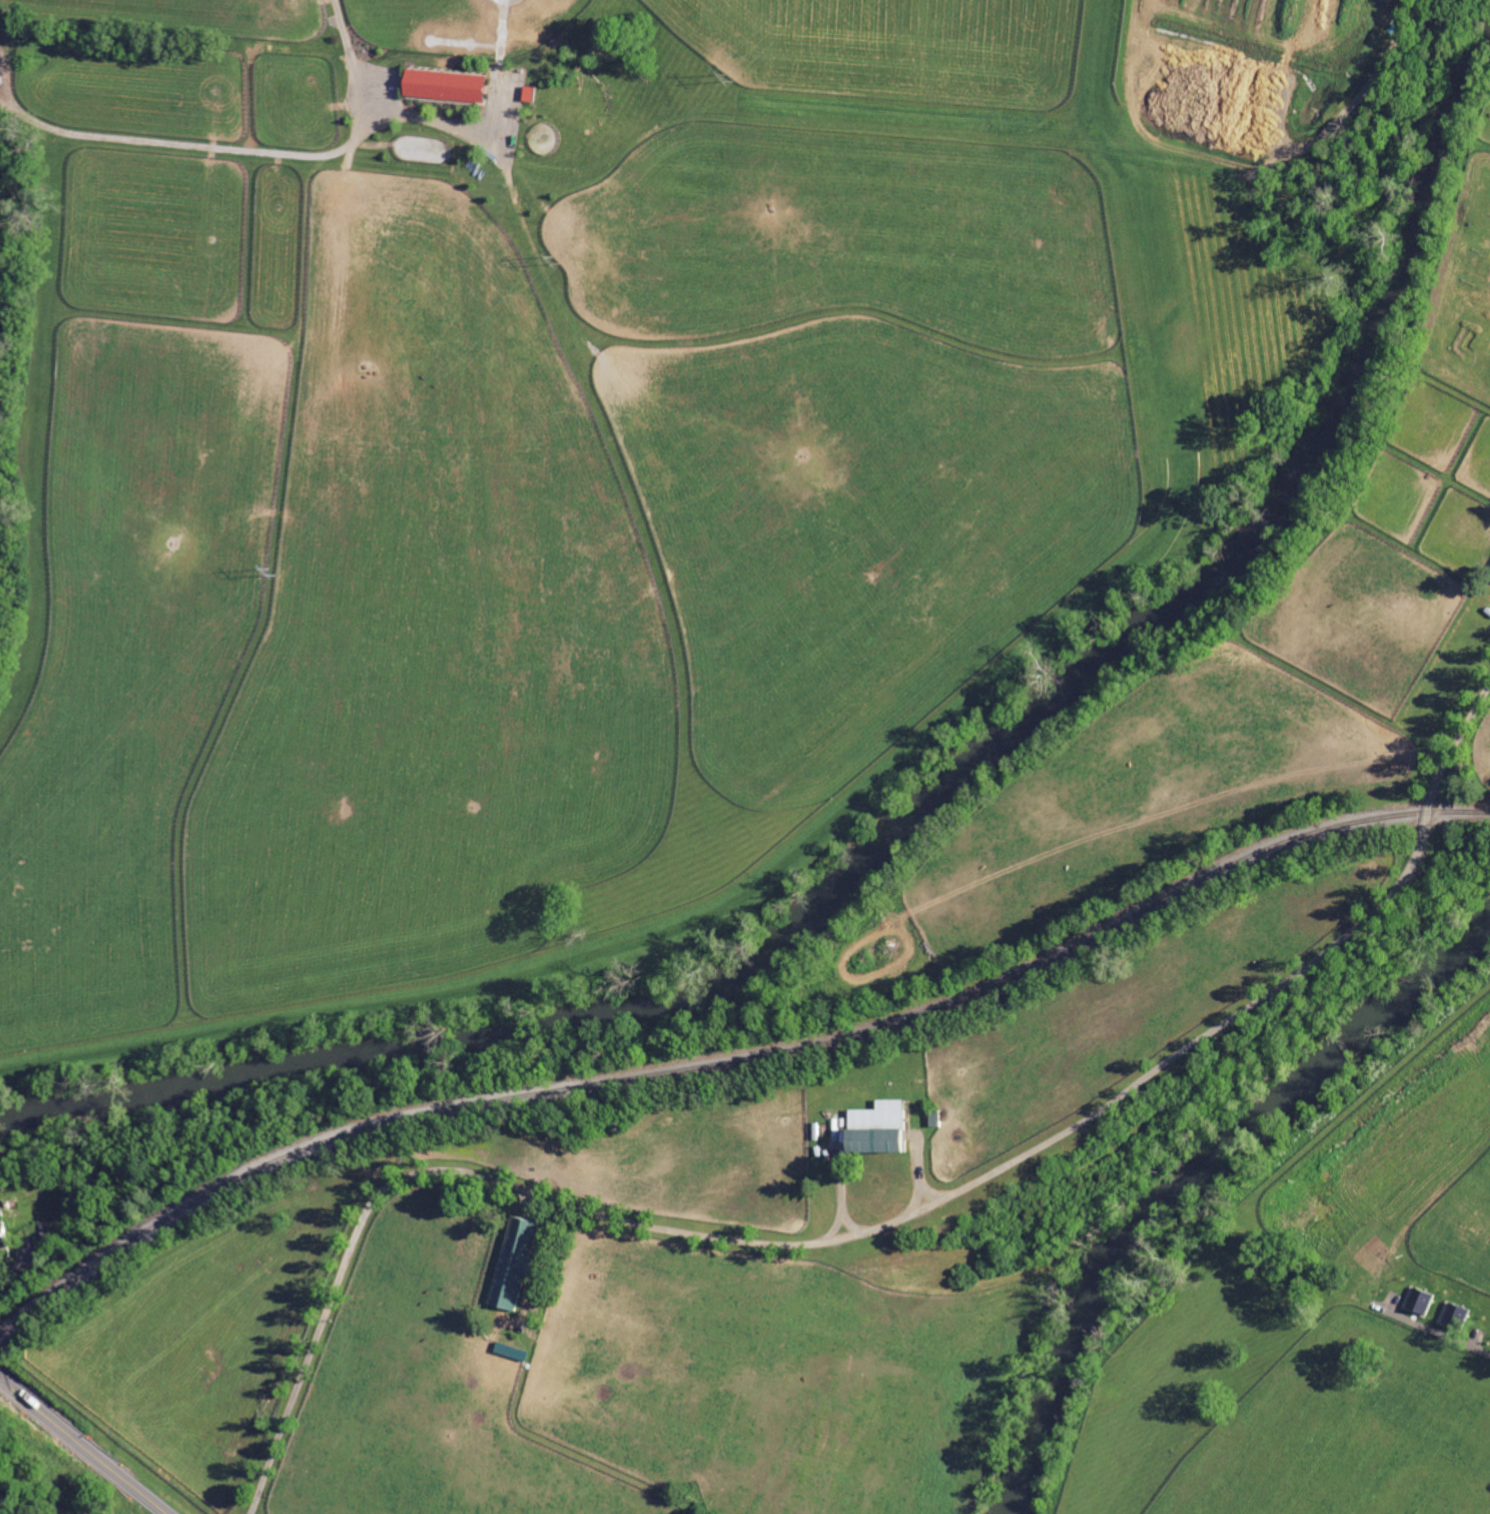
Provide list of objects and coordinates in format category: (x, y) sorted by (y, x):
power tower: (730, 77)
building: (442, 85)
road: (374, 95)
power tower: (555, 258)
power tower: (271, 572)
river: (930, 829)
railway: (738, 1061)
building: (878, 1114)
building: (873, 1139)
river: (1200, 1181)
road: (881, 1216)
building: (2, 1237)
road: (1456, 1343)
road: (25, 1398)
road: (109, 1465)
road: (11, 1506)

